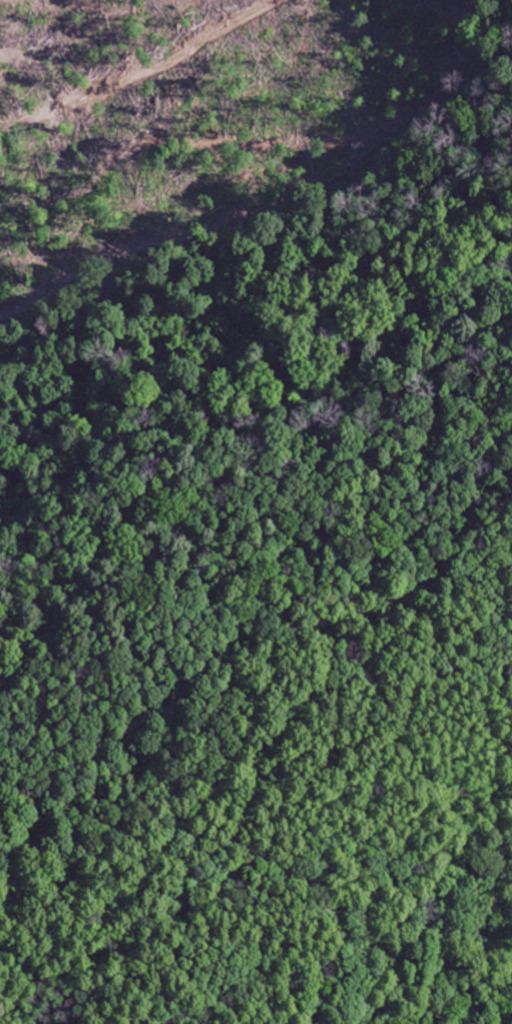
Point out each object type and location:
road: (239, 642)

